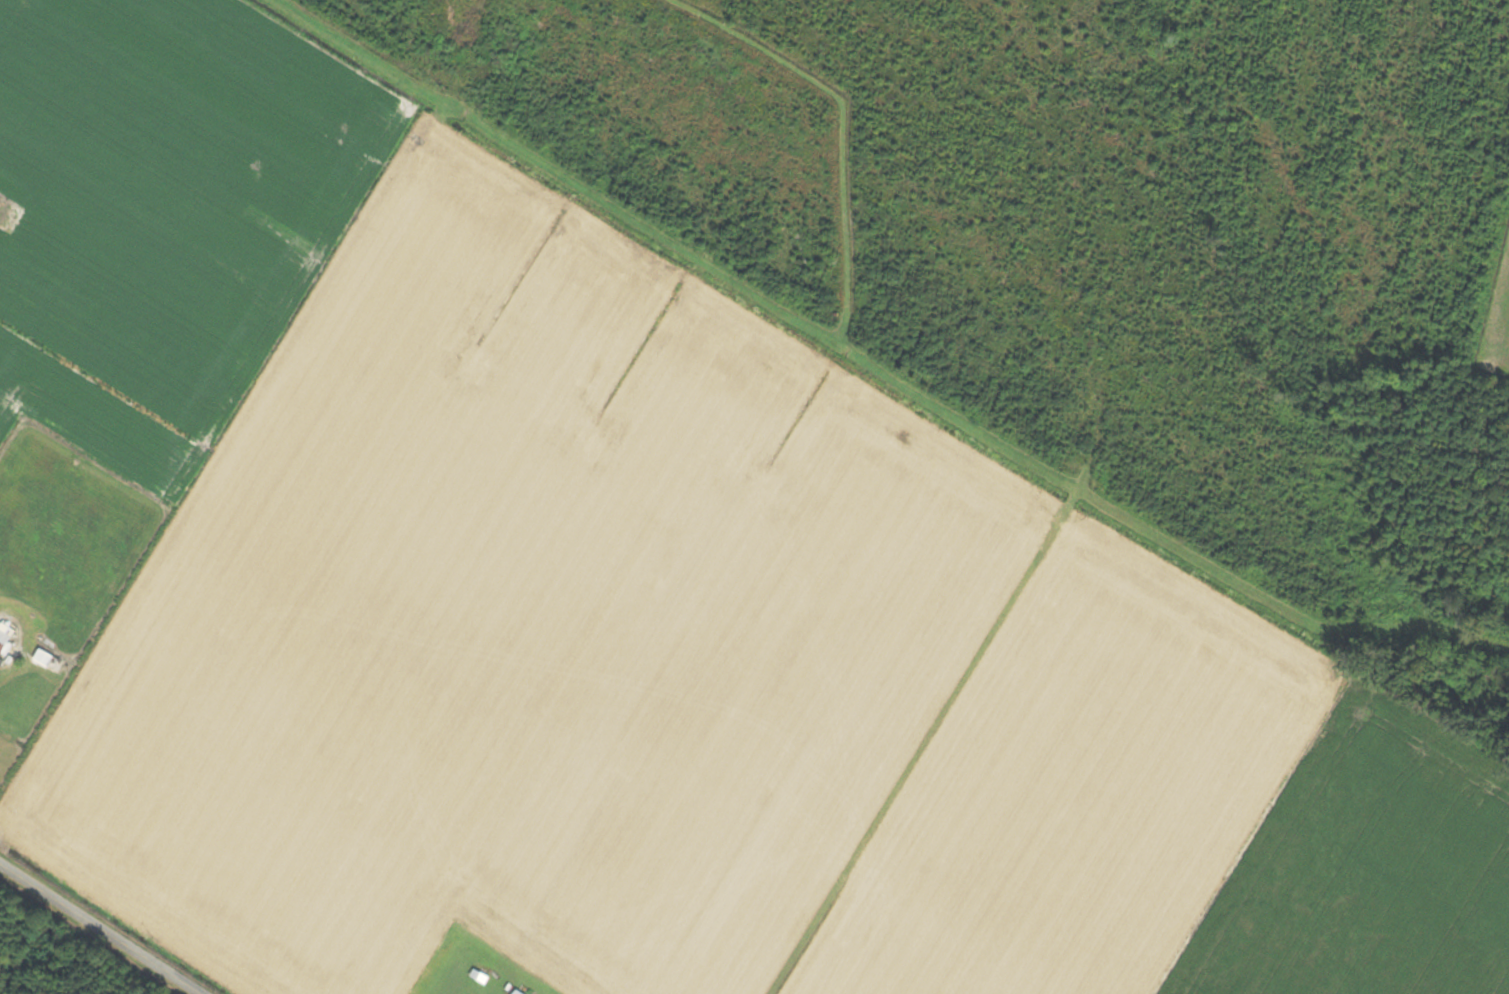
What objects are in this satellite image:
building: (3, 641)
road: (100, 928)
building: (480, 976)
building: (519, 992)

